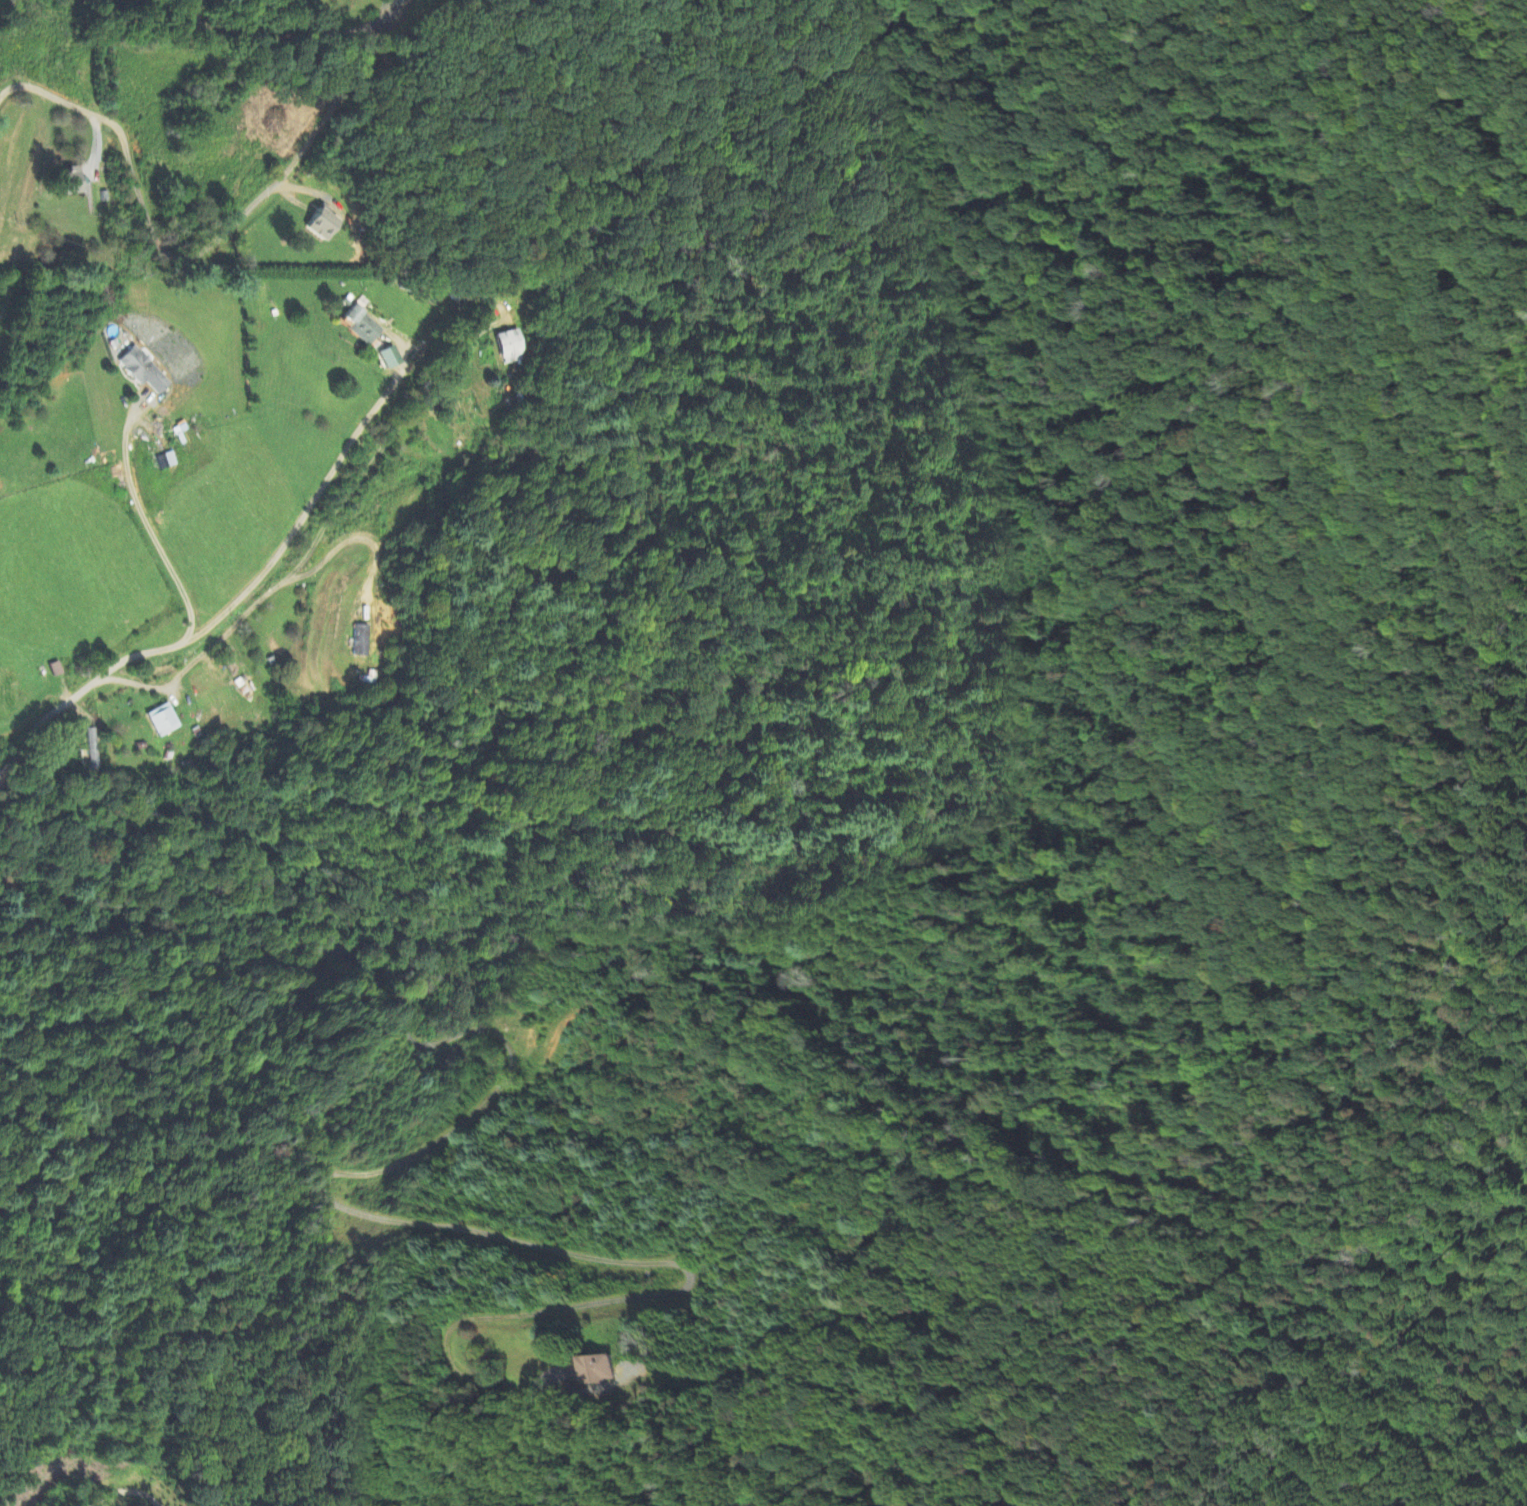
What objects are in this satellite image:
building: (72, 182)
building: (323, 223)
road: (188, 253)
building: (361, 325)
building: (388, 357)
building: (144, 370)
building: (166, 461)
road: (147, 523)
road: (261, 601)
road: (216, 615)
building: (362, 640)
building: (164, 720)
building: (92, 750)
building: (598, 1370)
road: (126, 1491)

